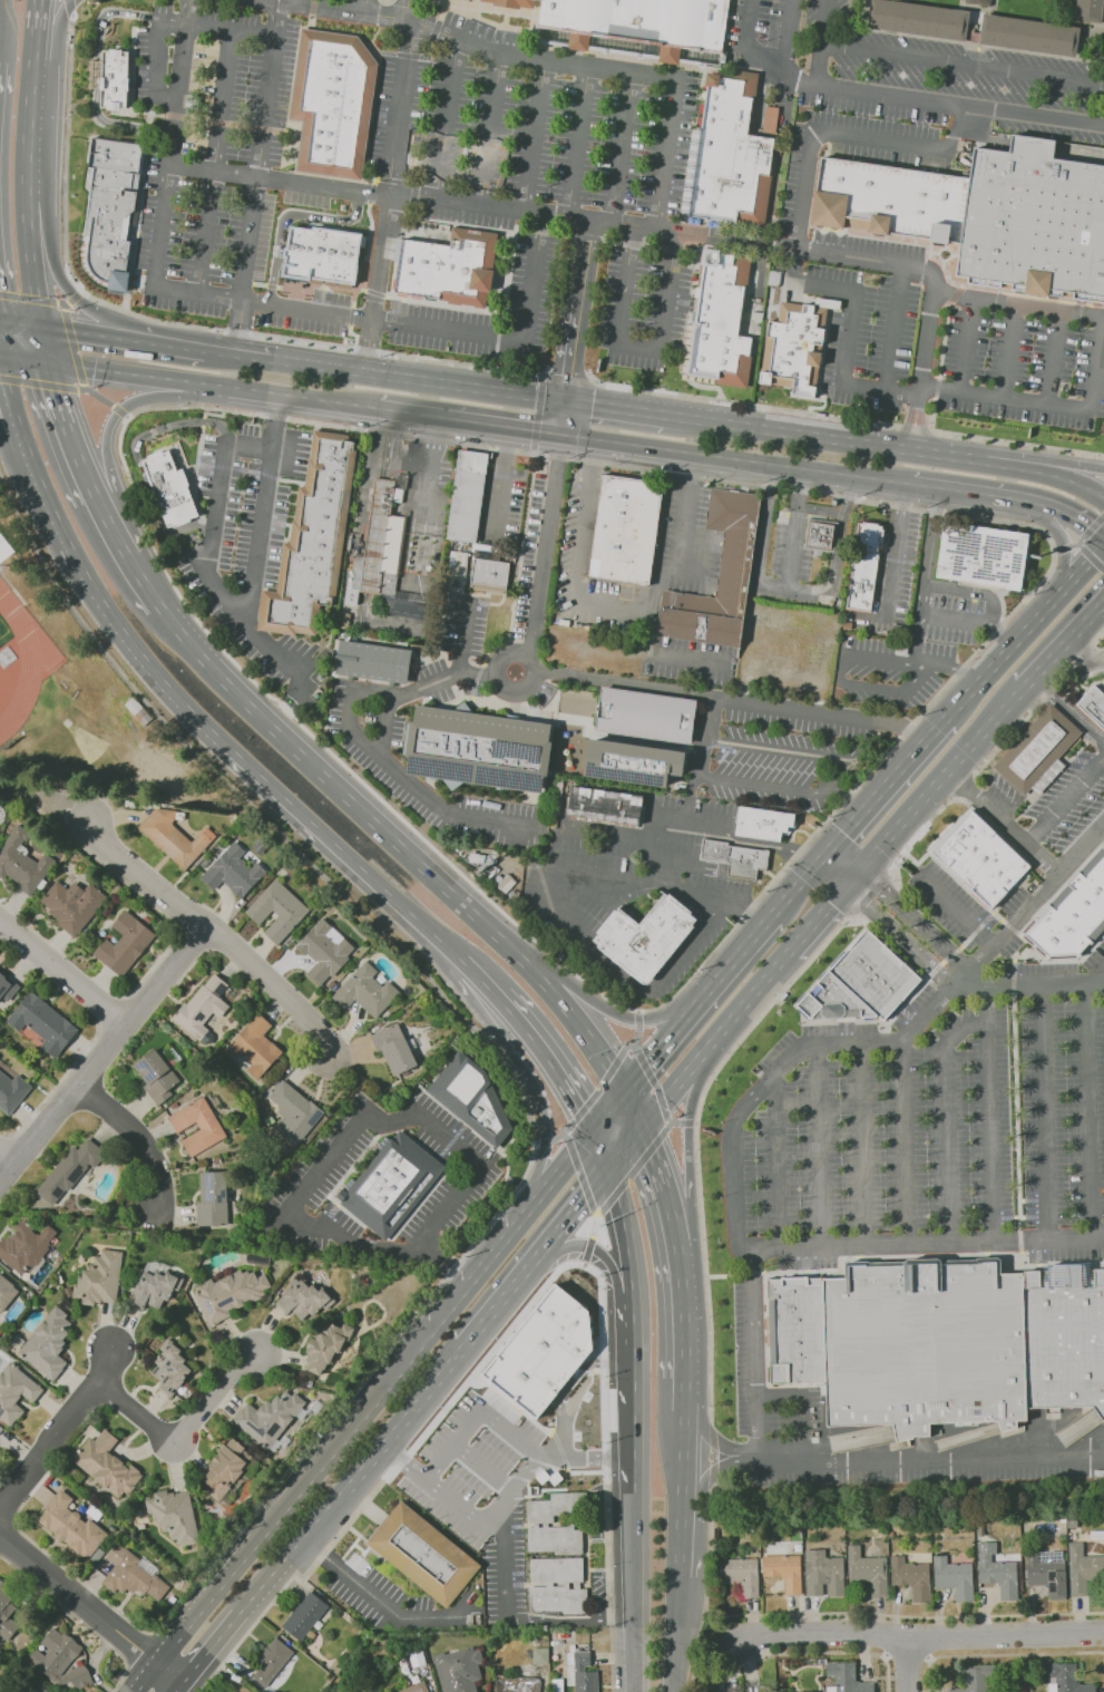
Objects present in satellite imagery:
building: (980, 2)
building: (514, 3)
road: (69, 7)
road: (368, 8)
building: (1090, 10)
road: (36, 16)
road: (56, 19)
building: (919, 19)
road: (168, 23)
building: (639, 28)
parking lot: (769, 35)
building: (1029, 35)
road: (787, 38)
road: (822, 41)
road: (468, 45)
road: (33, 46)
road: (748, 49)
road: (963, 64)
road: (96, 75)
building: (114, 78)
building: (333, 103)
road: (945, 103)
road: (447, 120)
road: (27, 125)
road: (488, 130)
road: (534, 136)
road: (577, 143)
road: (905, 145)
road: (622, 148)
road: (664, 154)
building: (729, 158)
road: (214, 163)
parking lot: (223, 166)
road: (256, 178)
road: (388, 186)
parking lot: (788, 188)
road: (807, 189)
parking lot: (543, 196)
road: (423, 197)
building: (113, 208)
building: (985, 214)
road: (287, 216)
road: (737, 239)
road: (618, 241)
building: (321, 254)
road: (872, 259)
road: (29, 260)
road: (586, 262)
building: (450, 268)
road: (57, 273)
road: (938, 290)
road: (81, 291)
road: (28, 298)
road: (75, 298)
road: (60, 303)
road: (65, 304)
road: (261, 304)
building: (722, 320)
road: (20, 323)
road: (182, 324)
traffic signals: (40, 327)
road: (891, 328)
road: (848, 330)
road: (78, 331)
road: (42, 344)
road: (159, 344)
parking lot: (949, 344)
road: (636, 346)
road: (74, 347)
building: (795, 348)
road: (964, 349)
road: (570, 352)
road: (501, 354)
road: (1006, 354)
traffic signals: (0, 356)
road: (235, 356)
road: (22, 359)
road: (1052, 361)
traffic signals: (46, 362)
traffic signals: (568, 373)
road: (417, 379)
road: (38, 382)
road: (212, 383)
road: (80, 388)
road: (95, 396)
road: (133, 400)
road: (13, 402)
traffic signals: (593, 405)
road: (615, 407)
road: (119, 411)
road: (128, 415)
road: (538, 415)
road: (1054, 415)
road: (836, 417)
road: (469, 421)
flagpole: (154, 424)
road: (729, 424)
traffic signals: (530, 429)
road: (66, 431)
road: (13, 440)
road: (433, 440)
road: (889, 447)
road: (385, 456)
road: (735, 458)
road: (138, 460)
road: (1046, 461)
traffic signals: (556, 464)
road: (369, 468)
road: (1047, 474)
road: (499, 480)
building: (173, 489)
road: (424, 492)
building: (467, 495)
road: (1012, 498)
road: (842, 514)
road: (208, 526)
road: (109, 527)
road: (546, 528)
building: (624, 528)
road: (797, 528)
road: (1090, 528)
road: (258, 532)
building: (822, 534)
road: (1056, 537)
road: (762, 539)
building: (316, 542)
building: (378, 545)
road: (1065, 546)
building: (4, 547)
road: (893, 548)
road: (930, 551)
road: (1091, 555)
building: (984, 556)
building: (457, 560)
building: (734, 560)
building: (866, 566)
road: (837, 573)
building: (489, 574)
road: (143, 580)
road: (622, 601)
road: (108, 607)
road: (993, 611)
park: (2, 629)
building: (899, 630)
road: (1024, 630)
road: (998, 633)
road: (465, 638)
road: (916, 640)
road: (1063, 644)
building: (902, 648)
road: (661, 654)
road: (848, 655)
track: (25, 662)
building: (375, 662)
road: (495, 677)
road: (300, 684)
building: (573, 700)
road: (732, 700)
building: (1093, 704)
road: (1032, 709)
road: (281, 711)
road: (1067, 711)
road: (351, 712)
building: (647, 714)
park: (87, 743)
building: (481, 749)
rooftop solar panel: (518, 750)
building: (1039, 751)
road: (885, 756)
road: (384, 758)
road: (700, 758)
building: (634, 762)
road: (907, 765)
rooftop solar panel: (441, 770)
road: (837, 770)
rooftop solar panel: (631, 776)
road: (939, 777)
rooftop solar panel: (511, 780)
road: (848, 795)
road: (1065, 800)
building: (606, 806)
road: (1003, 821)
building: (764, 823)
road: (928, 826)
road: (847, 832)
building: (174, 837)
road: (395, 843)
road: (770, 846)
road: (342, 849)
traffic signals: (827, 855)
building: (736, 858)
building: (981, 858)
building: (26, 860)
road: (842, 862)
road: (550, 864)
road: (676, 864)
road: (663, 868)
road: (834, 869)
traffic signals: (858, 869)
building: (232, 871)
road: (850, 877)
road: (800, 885)
traffic signals: (843, 885)
road: (869, 893)
building: (75, 900)
road: (1033, 902)
building: (276, 910)
road: (957, 913)
building: (1073, 914)
road: (363, 915)
road: (815, 917)
road: (915, 920)
road: (215, 933)
building: (646, 936)
road: (899, 939)
building: (124, 945)
road: (744, 949)
building: (324, 950)
road: (67, 967)
road: (1094, 975)
road: (478, 976)
road: (626, 982)
road: (1013, 982)
building: (861, 983)
building: (7, 986)
rooftop solar panel: (224, 988)
road: (1030, 988)
building: (364, 990)
road: (702, 999)
road: (741, 1004)
building: (203, 1005)
road: (605, 1009)
rooftop solar panel: (202, 1017)
building: (42, 1023)
building: (254, 1046)
road: (634, 1047)
building: (393, 1048)
road: (654, 1052)
road: (104, 1054)
road: (548, 1060)
rooftop solar panel: (152, 1068)
road: (520, 1070)
building: (155, 1076)
road: (654, 1083)
road: (600, 1088)
building: (11, 1091)
traffic signals: (623, 1091)
road: (668, 1092)
building: (472, 1097)
road: (632, 1108)
road: (606, 1111)
building: (292, 1114)
road: (1087, 1114)
road: (1043, 1115)
road: (989, 1116)
road: (1016, 1116)
road: (944, 1118)
road: (672, 1122)
road: (687, 1122)
building: (208, 1125)
traffic signals: (641, 1126)
road: (667, 1127)
parking lot: (919, 1131)
traffic signals: (590, 1132)
road: (560, 1134)
road: (349, 1136)
road: (564, 1136)
road: (149, 1139)
road: (686, 1140)
road: (541, 1141)
road: (697, 1144)
road: (902, 1145)
road: (623, 1147)
road: (860, 1147)
road: (819, 1148)
road: (598, 1150)
road: (9, 1153)
road: (775, 1164)
road: (563, 1165)
traffic signals: (606, 1168)
building: (67, 1171)
road: (632, 1171)
road: (658, 1171)
road: (579, 1174)
rooftop solar panel: (77, 1175)
building: (392, 1184)
rooftop solar panel: (209, 1185)
rooftop solar panel: (58, 1188)
rooftop solar panel: (226, 1195)
building: (212, 1197)
road: (573, 1207)
road: (597, 1216)
road: (734, 1223)
road: (594, 1225)
road: (674, 1232)
road: (500, 1238)
road: (625, 1238)
road: (1019, 1241)
building: (25, 1245)
road: (587, 1252)
road: (603, 1255)
road: (442, 1261)
road: (726, 1273)
road: (753, 1273)
building: (99, 1277)
road: (514, 1280)
building: (154, 1289)
building: (6, 1290)
building: (228, 1293)
building: (301, 1299)
rooftop solar panel: (227, 1303)
rooftop solar panel: (209, 1306)
road: (525, 1309)
road: (683, 1312)
building: (797, 1330)
building: (1065, 1336)
road: (632, 1338)
building: (47, 1343)
building: (926, 1344)
building: (324, 1346)
rooftop solar panel: (169, 1348)
building: (546, 1350)
road: (455, 1353)
road: (755, 1354)
rooftop solar panel: (163, 1355)
rooftop solar panel: (176, 1368)
building: (169, 1369)
road: (107, 1370)
rooftop solar panel: (157, 1370)
road: (567, 1387)
rooftop solar panel: (173, 1388)
building: (14, 1391)
road: (684, 1396)
road: (127, 1406)
road: (800, 1406)
road: (477, 1416)
building: (268, 1417)
road: (401, 1417)
rooftop solar panel: (252, 1421)
road: (633, 1427)
road: (715, 1441)
road: (682, 1455)
road: (930, 1457)
road: (714, 1459)
building: (106, 1464)
road: (483, 1466)
building: (224, 1467)
road: (311, 1469)
road: (715, 1472)
parking lot: (483, 1492)
road: (499, 1505)
building: (174, 1515)
building: (540, 1523)
building: (1072, 1524)
building: (70, 1525)
road: (309, 1526)
road: (678, 1537)
building: (422, 1553)
road: (710, 1557)
rooftop solar panel: (1048, 1558)
road: (505, 1560)
building: (1084, 1568)
building: (784, 1571)
building: (869, 1571)
building: (998, 1572)
building: (824, 1573)
building: (1048, 1573)
building: (741, 1575)
rooftop solar panel: (1052, 1575)
building: (134, 1576)
building: (912, 1577)
building: (955, 1577)
building: (557, 1586)
rooftop solar panel: (1052, 1587)
road: (632, 1592)
road: (78, 1595)
road: (374, 1597)
building: (6, 1613)
building: (304, 1615)
road: (910, 1615)
road: (569, 1618)
road: (672, 1633)
road: (703, 1635)
road: (916, 1636)
road: (209, 1647)
road: (789, 1653)
road: (1000, 1654)
building: (539, 1655)
road: (909, 1655)
building: (59, 1660)
building: (271, 1662)
building: (822, 1662)
road: (911, 1664)
building: (458, 1670)
road: (168, 1672)
building: (582, 1673)
road: (144, 1676)
building: (847, 1678)
building: (976, 1679)
building: (1065, 1679)
building: (516, 1683)
road: (176, 1688)
building: (416, 1688)
building: (41, 1690)
building: (243, 1690)

